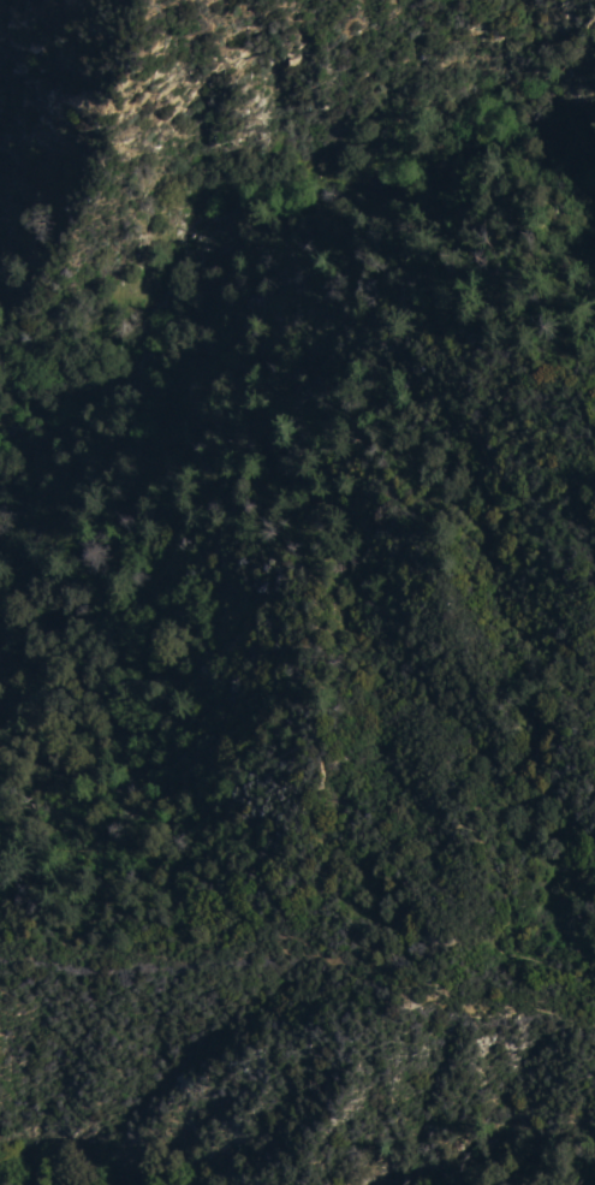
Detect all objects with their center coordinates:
road: (226, 273)
road: (114, 596)
road: (311, 823)

